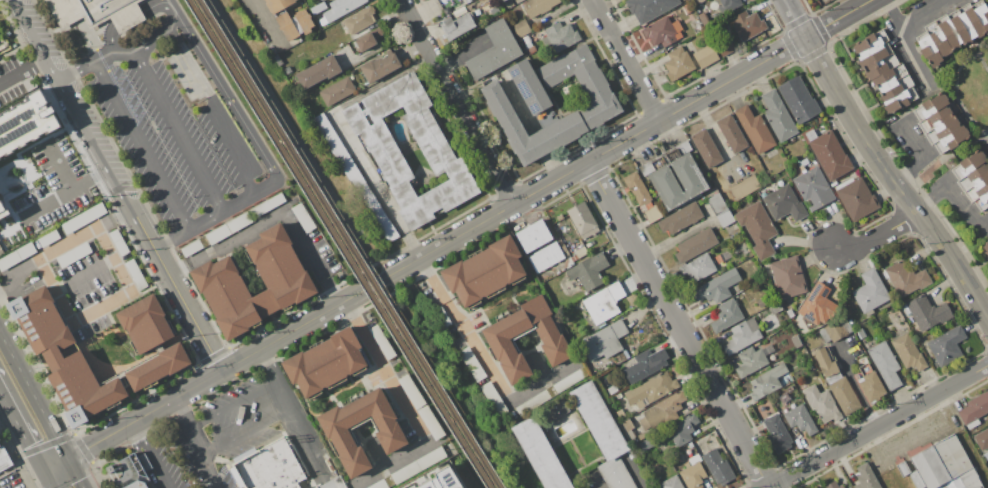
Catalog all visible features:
building: (317, 0)
building: (503, 0)
building: (688, 0)
building: (468, 1)
building: (699, 1)
building: (278, 4)
building: (729, 4)
road: (157, 5)
building: (538, 6)
building: (318, 7)
building: (650, 8)
building: (89, 9)
building: (340, 9)
building: (686, 9)
road: (895, 15)
building: (128, 18)
road: (260, 18)
building: (704, 18)
building: (974, 19)
building: (360, 20)
road: (129, 21)
building: (295, 23)
building: (457, 25)
building: (747, 25)
building: (520, 28)
building: (953, 30)
building: (379, 31)
building: (663, 31)
building: (8, 33)
building: (539, 35)
road: (901, 35)
building: (560, 36)
road: (114, 39)
building: (526, 39)
building: (366, 41)
building: (870, 42)
building: (933, 44)
building: (529, 45)
building: (725, 46)
building: (495, 50)
building: (532, 50)
road: (125, 52)
building: (706, 55)
road: (626, 60)
building: (877, 60)
building: (678, 63)
building: (379, 66)
road: (24, 70)
building: (288, 70)
building: (318, 72)
building: (892, 82)
building: (30, 84)
building: (529, 87)
building: (338, 91)
building: (798, 99)
building: (899, 100)
road: (232, 101)
road: (457, 102)
building: (930, 106)
building: (602, 107)
building: (315, 109)
building: (778, 116)
building: (934, 119)
road: (86, 124)
building: (754, 129)
building: (941, 129)
road: (180, 132)
park: (287, 132)
building: (732, 133)
building: (951, 139)
parking lot: (175, 141)
building: (434, 146)
road: (144, 147)
building: (706, 148)
building: (828, 152)
building: (34, 154)
road: (236, 156)
road: (921, 156)
building: (665, 157)
road: (879, 162)
building: (968, 164)
road: (371, 173)
building: (355, 177)
building: (973, 177)
building: (678, 181)
building: (745, 187)
building: (814, 188)
building: (977, 190)
road: (955, 192)
building: (641, 196)
building: (856, 198)
building: (982, 201)
building: (784, 203)
building: (720, 210)
building: (304, 217)
building: (84, 218)
building: (681, 218)
building: (582, 220)
road: (206, 223)
building: (234, 224)
building: (758, 228)
road: (470, 230)
building: (4, 231)
road: (879, 234)
building: (533, 235)
building: (49, 237)
road: (70, 239)
road: (355, 241)
building: (119, 242)
railway: (337, 244)
railway: (347, 244)
building: (696, 244)
road: (412, 246)
building: (985, 247)
building: (1, 251)
building: (581, 252)
building: (74, 255)
building: (16, 256)
building: (723, 256)
building: (546, 257)
building: (728, 266)
building: (699, 268)
road: (318, 270)
building: (485, 271)
building: (588, 271)
building: (136, 274)
building: (788, 277)
building: (906, 278)
building: (218, 281)
road: (9, 286)
building: (717, 287)
building: (870, 291)
building: (603, 303)
building: (817, 305)
building: (775, 308)
building: (906, 309)
road: (188, 310)
building: (790, 312)
building: (928, 312)
road: (89, 314)
building: (727, 315)
building: (442, 316)
building: (145, 322)
road: (679, 324)
building: (832, 331)
building: (861, 332)
building: (742, 335)
building: (383, 341)
building: (499, 341)
building: (604, 342)
building: (947, 346)
building: (908, 352)
building: (63, 357)
building: (327, 361)
road: (485, 361)
building: (751, 361)
building: (825, 362)
building: (472, 364)
building: (885, 365)
building: (643, 366)
building: (158, 367)
building: (767, 382)
building: (870, 384)
road: (857, 387)
building: (613, 389)
building: (412, 390)
building: (650, 390)
building: (551, 391)
park: (452, 392)
building: (845, 395)
road: (33, 396)
building: (494, 398)
road: (288, 400)
building: (822, 404)
road: (406, 405)
road: (233, 406)
building: (975, 408)
building: (556, 410)
building: (665, 410)
road: (314, 413)
building: (620, 413)
building: (598, 419)
building: (801, 419)
building: (430, 422)
building: (973, 423)
building: (628, 424)
road: (878, 426)
building: (682, 428)
road: (20, 430)
road: (247, 431)
building: (778, 433)
parking lot: (214, 437)
building: (393, 437)
building: (982, 439)
road: (195, 443)
building: (690, 445)
building: (698, 447)
building: (540, 454)
road: (149, 455)
building: (985, 457)
traffic signals: (68, 458)
building: (4, 459)
building: (145, 462)
road: (54, 463)
building: (687, 464)
building: (329, 465)
building: (943, 466)
building: (268, 467)
building: (718, 467)
building: (410, 468)
building: (903, 468)
traffic signals: (41, 469)
road: (634, 472)
road: (75, 473)
building: (615, 474)
building: (693, 475)
building: (452, 476)
building: (866, 477)
road: (46, 478)
road: (596, 482)
building: (671, 483)
building: (137, 484)
building: (333, 484)
building: (833, 485)
building: (588, 486)
parking lot: (242, 487)
building: (850, 487)

